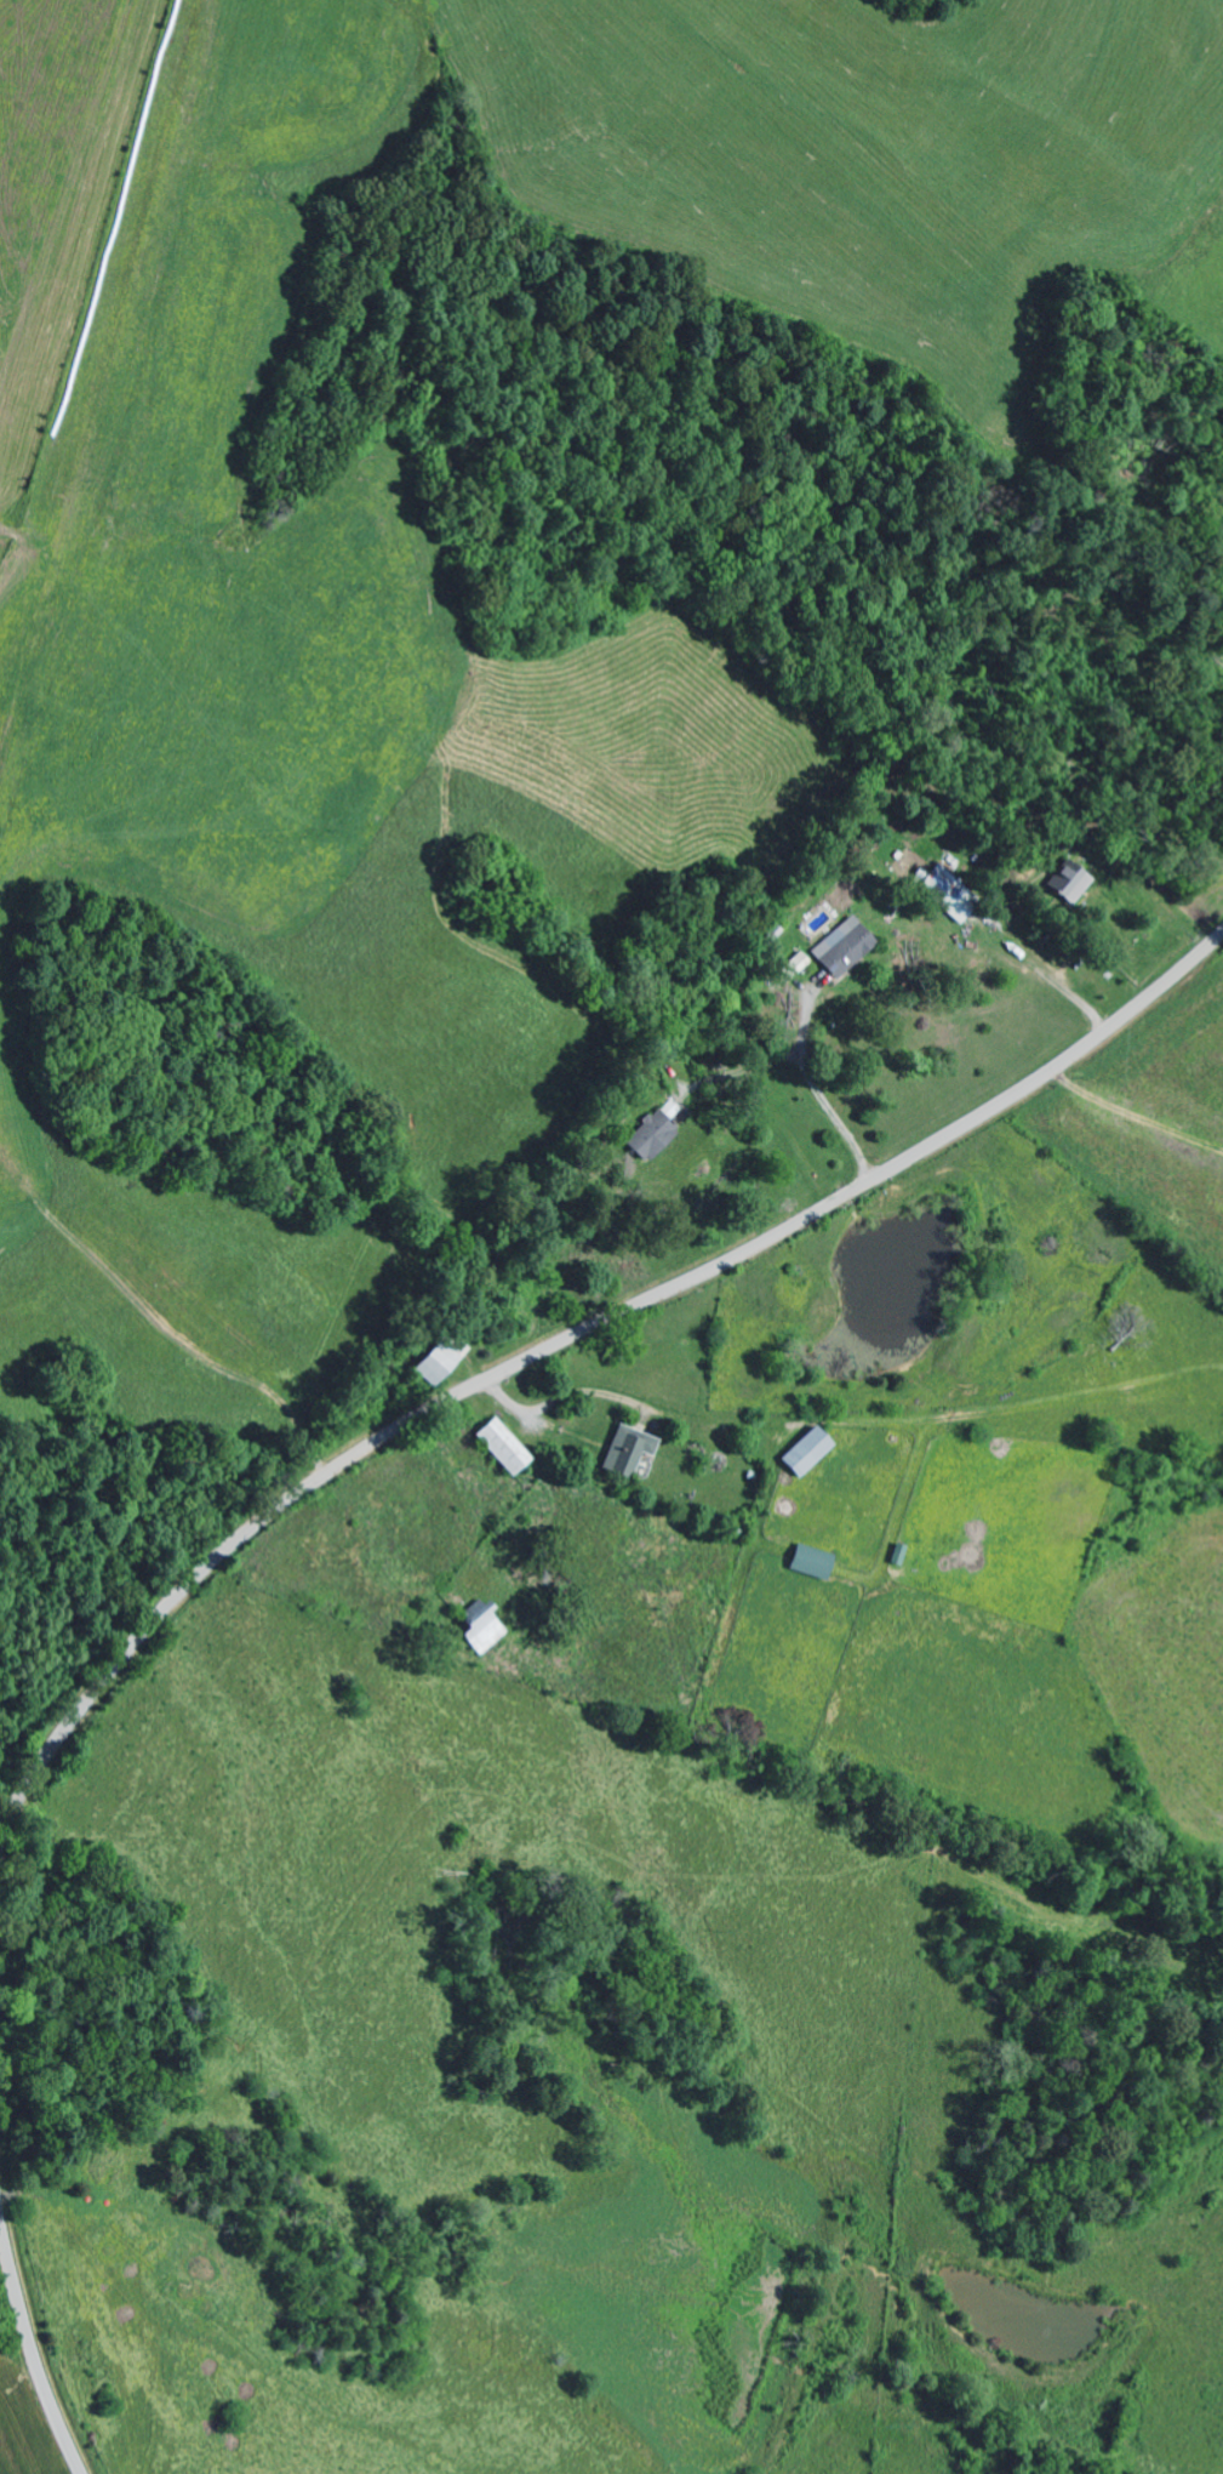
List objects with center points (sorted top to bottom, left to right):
building: (1071, 884)
building: (949, 895)
building: (846, 951)
building: (801, 962)
building: (653, 1136)
road: (566, 1340)
building: (444, 1363)
building: (507, 1448)
building: (631, 1450)
building: (810, 1453)
building: (901, 1555)
building: (815, 1563)
road: (33, 2349)

